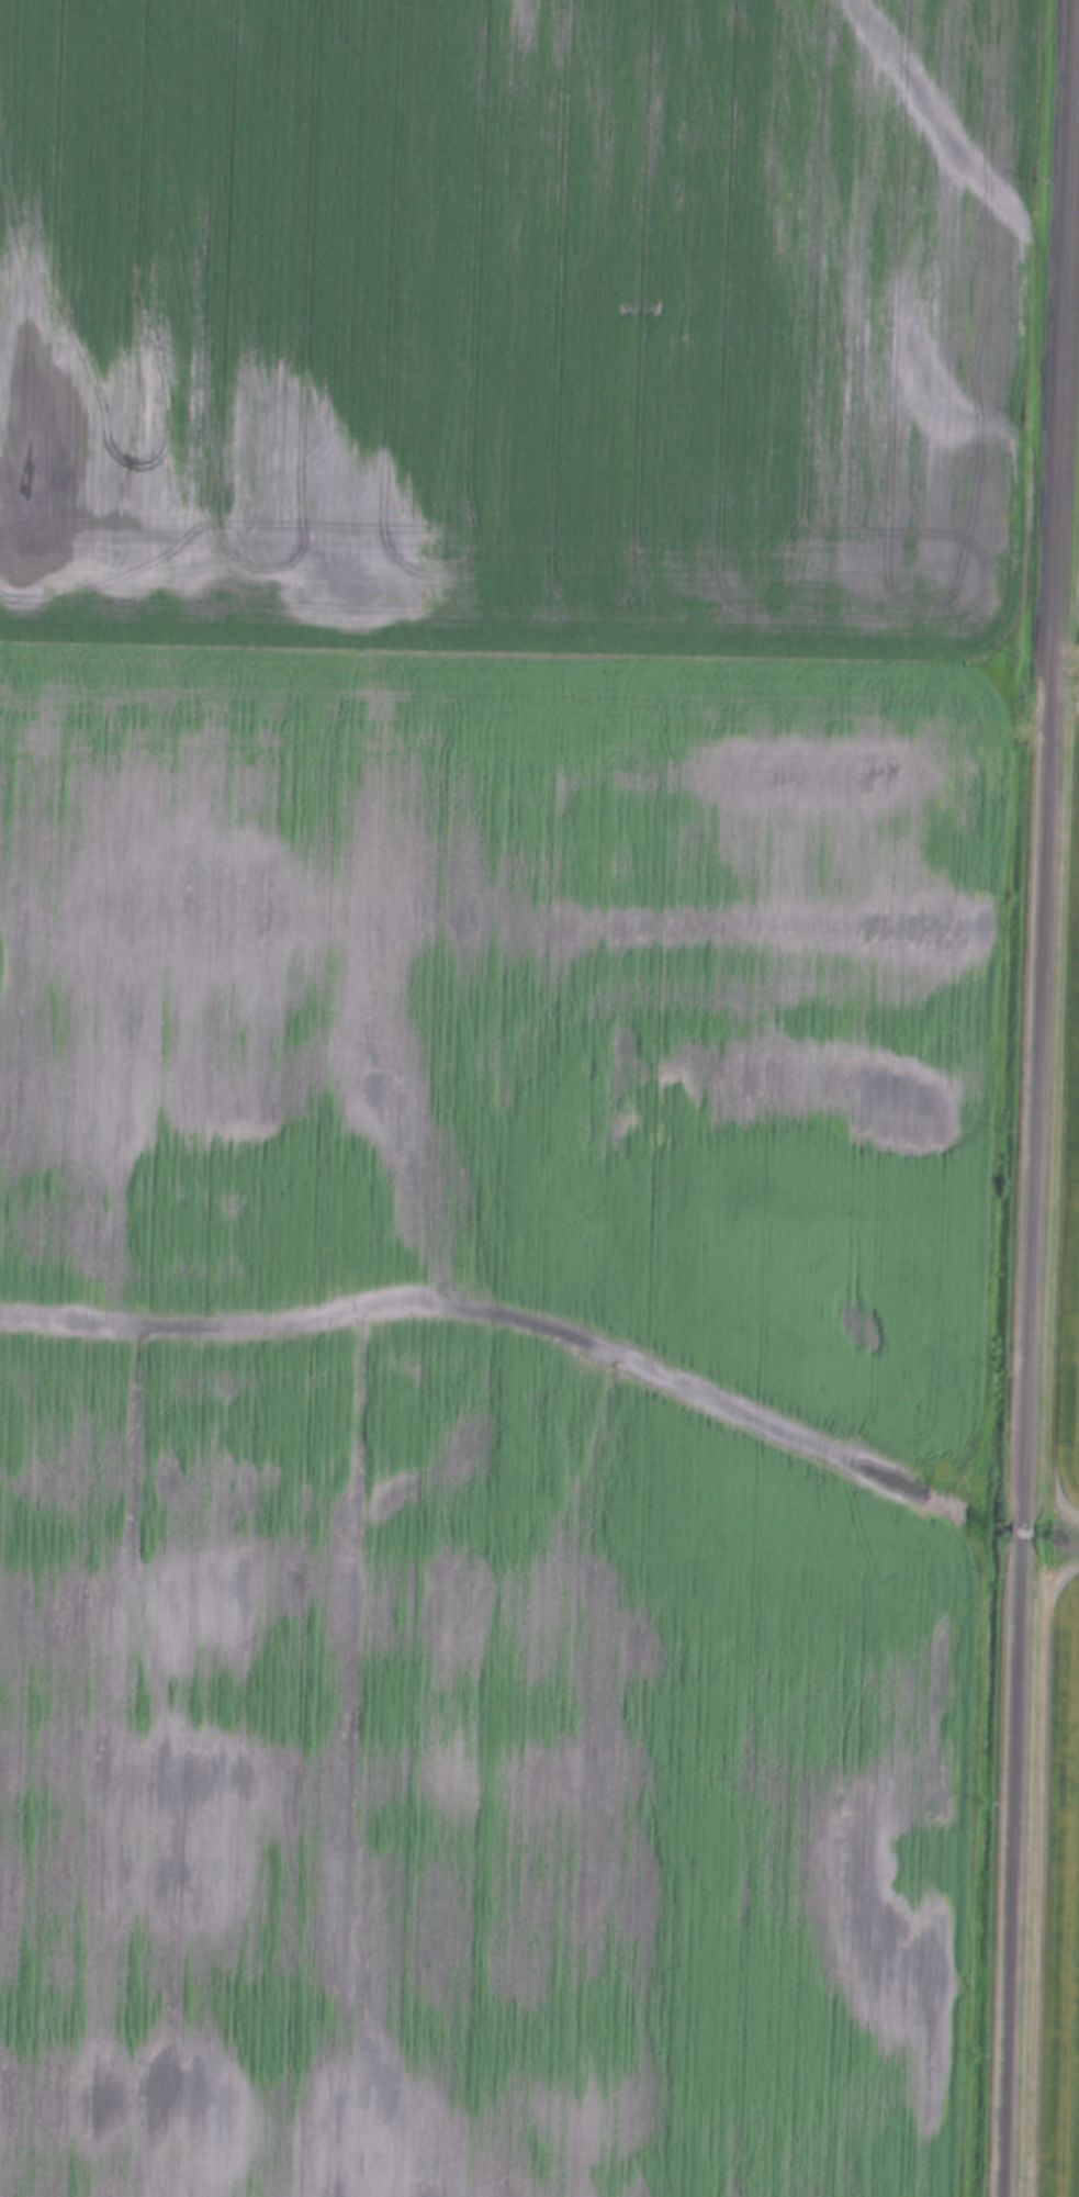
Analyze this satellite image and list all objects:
road: (1038, 1102)

